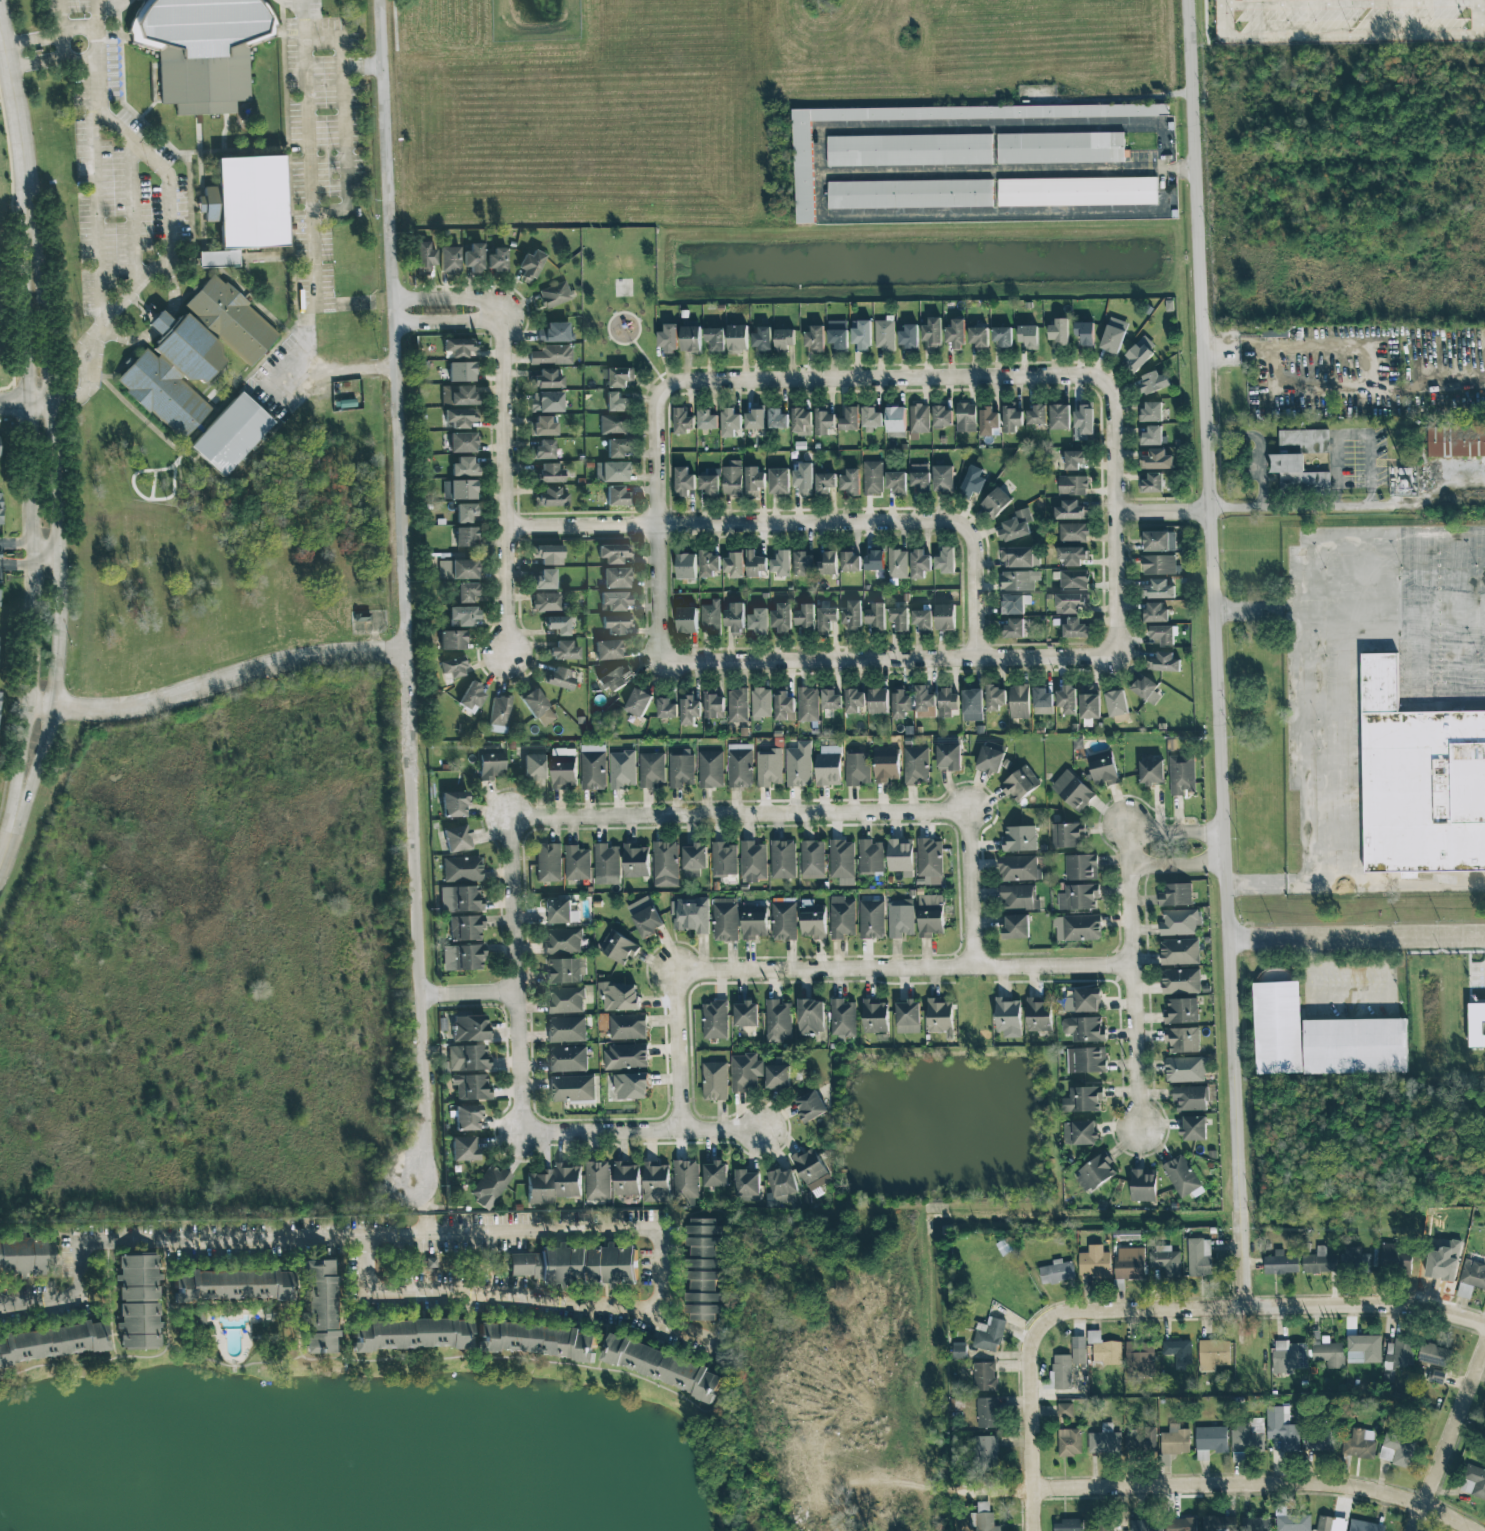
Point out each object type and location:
road: (1476, 0)
road: (62, 1)
parking lot: (72, 1)
road: (95, 1)
road: (109, 2)
road: (1222, 2)
road: (1350, 3)
road: (66, 32)
road: (1350, 36)
road: (49, 37)
road: (335, 40)
building: (202, 49)
road: (82, 61)
road: (38, 64)
road: (304, 112)
parking lot: (328, 123)
road: (343, 135)
building: (984, 163)
road: (1182, 169)
road: (820, 172)
building: (243, 199)
road: (994, 213)
road: (93, 220)
parking lot: (116, 222)
road: (182, 222)
building: (424, 257)
building: (473, 258)
building: (214, 259)
building: (449, 259)
building: (497, 260)
building: (530, 265)
road: (176, 292)
road: (311, 293)
building: (556, 294)
road: (448, 302)
road: (160, 322)
road: (448, 324)
building: (553, 332)
building: (1059, 332)
building: (837, 333)
building: (1084, 333)
building: (884, 334)
building: (932, 334)
building: (956, 334)
building: (862, 335)
building: (1027, 335)
building: (908, 336)
building: (978, 336)
building: (1002, 336)
building: (737, 337)
road: (132, 338)
building: (715, 338)
building: (784, 338)
building: (668, 339)
building: (690, 339)
building: (761, 339)
building: (814, 339)
building: (1112, 339)
building: (457, 347)
building: (191, 353)
building: (1139, 354)
building: (551, 355)
road: (1370, 362)
road: (324, 371)
building: (461, 371)
parking lot: (285, 373)
building: (617, 376)
building: (547, 380)
building: (1152, 383)
road: (889, 384)
building: (457, 395)
road: (20, 402)
building: (546, 402)
building: (616, 402)
building: (1151, 411)
building: (1036, 415)
building: (1059, 416)
building: (460, 417)
building: (755, 417)
building: (942, 417)
building: (966, 417)
building: (1012, 417)
building: (778, 418)
building: (895, 418)
building: (707, 419)
building: (849, 419)
building: (871, 419)
building: (919, 419)
building: (683, 420)
building: (988, 420)
building: (801, 421)
building: (824, 421)
building: (1083, 421)
building: (730, 422)
building: (613, 424)
building: (544, 426)
building: (225, 434)
building: (1151, 435)
building: (1456, 440)
building: (463, 442)
building: (616, 447)
road: (1256, 447)
building: (543, 449)
road: (43, 455)
building: (1075, 459)
building: (1156, 460)
building: (1300, 461)
building: (464, 466)
building: (548, 472)
building: (611, 472)
building: (919, 476)
building: (872, 477)
building: (804, 478)
building: (943, 478)
building: (731, 479)
building: (754, 480)
building: (684, 481)
building: (779, 481)
building: (895, 481)
building: (825, 482)
building: (972, 482)
building: (849, 483)
building: (1151, 483)
road: (503, 484)
building: (709, 485)
building: (1072, 485)
building: (459, 489)
building: (617, 496)
building: (550, 498)
building: (996, 502)
road: (1348, 503)
building: (1070, 510)
road: (1166, 511)
building: (465, 512)
building: (0, 517)
road: (1121, 525)
building: (1015, 526)
road: (661, 528)
road: (801, 528)
building: (1072, 532)
building: (465, 536)
building: (1159, 540)
road: (23, 544)
building: (613, 553)
building: (548, 554)
building: (1071, 555)
building: (1020, 557)
building: (945, 560)
building: (850, 561)
building: (873, 561)
road: (24, 562)
building: (709, 563)
building: (755, 563)
building: (781, 563)
building: (803, 563)
building: (828, 563)
building: (897, 563)
building: (919, 563)
building: (733, 565)
building: (1158, 565)
building: (686, 566)
building: (457, 569)
building: (615, 578)
building: (1073, 579)
building: (544, 580)
building: (1019, 580)
building: (1158, 589)
road: (405, 591)
building: (466, 592)
building: (615, 600)
building: (546, 602)
building: (1071, 602)
building: (1013, 604)
road: (1260, 606)
building: (1155, 612)
building: (852, 614)
building: (462, 616)
building: (945, 616)
building: (710, 617)
building: (781, 617)
building: (804, 617)
building: (876, 617)
building: (734, 618)
building: (899, 618)
building: (826, 619)
building: (921, 619)
building: (687, 620)
building: (758, 621)
road: (1305, 623)
building: (616, 624)
building: (558, 625)
building: (1014, 628)
building: (1074, 628)
building: (1162, 634)
building: (452, 640)
road: (1421, 647)
building: (563, 650)
building: (607, 650)
road: (1218, 653)
building: (1163, 662)
road: (889, 663)
building: (453, 667)
building: (614, 678)
building: (561, 679)
road: (226, 680)
building: (1146, 689)
building: (471, 697)
building: (995, 697)
building: (1066, 699)
building: (831, 700)
building: (855, 700)
building: (878, 701)
building: (1019, 701)
building: (1042, 701)
building: (638, 702)
building: (900, 702)
building: (924, 702)
building: (947, 702)
building: (1116, 702)
building: (760, 703)
building: (808, 704)
building: (972, 704)
building: (714, 705)
building: (737, 705)
building: (784, 706)
building: (1089, 706)
building: (538, 707)
building: (666, 708)
building: (690, 710)
building: (949, 756)
building: (989, 760)
building: (490, 763)
building: (886, 764)
building: (740, 765)
building: (799, 765)
building: (828, 765)
building: (916, 765)
building: (535, 766)
building: (593, 767)
building: (769, 767)
building: (563, 768)
building: (857, 768)
building: (622, 769)
building: (651, 769)
building: (681, 769)
building: (710, 769)
building: (1104, 771)
building: (1151, 772)
building: (1181, 774)
building: (1418, 779)
building: (1019, 783)
building: (1073, 790)
building: (454, 803)
road: (735, 817)
road: (1177, 829)
building: (1067, 835)
building: (456, 838)
building: (1019, 838)
building: (870, 856)
building: (900, 856)
building: (694, 859)
building: (724, 859)
building: (782, 859)
building: (812, 859)
building: (635, 860)
building: (929, 860)
building: (753, 861)
building: (842, 861)
building: (548, 862)
building: (577, 863)
building: (606, 864)
building: (665, 864)
building: (1081, 867)
building: (1018, 868)
building: (462, 869)
road: (1179, 870)
road: (1356, 882)
road: (972, 891)
building: (1176, 895)
building: (1018, 896)
building: (1078, 896)
building: (460, 899)
road: (512, 907)
building: (560, 911)
building: (690, 914)
building: (930, 915)
building: (645, 917)
building: (841, 917)
building: (901, 918)
building: (725, 919)
building: (783, 919)
building: (871, 919)
building: (813, 920)
building: (1180, 921)
building: (754, 922)
building: (1016, 926)
building: (1077, 927)
building: (465, 928)
road: (1358, 937)
building: (563, 941)
building: (618, 946)
building: (1179, 951)
building: (463, 957)
road: (903, 968)
building: (565, 970)
road: (1348, 975)
building: (1180, 981)
road: (1130, 982)
road: (468, 994)
building: (618, 996)
building: (1087, 999)
building: (565, 1000)
building: (1181, 1010)
building: (746, 1014)
building: (939, 1014)
building: (1038, 1015)
building: (811, 1016)
building: (875, 1016)
building: (907, 1016)
building: (1008, 1017)
building: (842, 1018)
building: (714, 1019)
building: (778, 1021)
building: (1476, 1024)
building: (627, 1026)
building: (1277, 1027)
building: (469, 1028)
building: (566, 1029)
building: (1084, 1029)
building: (1182, 1039)
building: (1355, 1046)
road: (679, 1051)
building: (625, 1056)
building: (467, 1058)
building: (567, 1059)
building: (1085, 1059)
road: (519, 1063)
building: (1184, 1069)
building: (745, 1072)
building: (778, 1073)
building: (714, 1080)
building: (631, 1086)
building: (471, 1087)
building: (571, 1088)
building: (1189, 1098)
building: (1083, 1099)
building: (810, 1106)
building: (466, 1118)
building: (1193, 1127)
road: (642, 1131)
building: (1080, 1132)
building: (464, 1148)
building: (811, 1169)
building: (1094, 1173)
building: (714, 1174)
building: (1182, 1176)
building: (626, 1178)
building: (685, 1179)
building: (568, 1180)
building: (597, 1180)
building: (656, 1181)
building: (782, 1182)
building: (1143, 1185)
building: (489, 1186)
building: (746, 1186)
building: (538, 1187)
road: (423, 1197)
building: (784, 1199)
road: (428, 1227)
road: (380, 1241)
building: (26, 1256)
building: (1199, 1257)
building: (1356, 1257)
building: (1396, 1257)
building: (1165, 1260)
building: (1319, 1261)
building: (1130, 1263)
building: (1280, 1263)
building: (520, 1264)
building: (1094, 1264)
building: (536, 1265)
building: (589, 1265)
building: (703, 1269)
building: (1056, 1272)
building: (1471, 1277)
building: (233, 1285)
road: (487, 1292)
building: (138, 1302)
building: (319, 1307)
road: (1263, 1307)
building: (409, 1334)
building: (989, 1334)
building: (535, 1340)
building: (52, 1342)
building: (1363, 1348)
building: (1078, 1350)
building: (959, 1351)
building: (1107, 1352)
building: (1178, 1352)
building: (1399, 1353)
building: (1213, 1354)
building: (1328, 1354)
building: (1434, 1354)
building: (1289, 1356)
building: (1140, 1359)
building: (661, 1365)
building: (1062, 1371)
building: (984, 1376)
building: (1436, 1376)
building: (1065, 1410)
building: (987, 1412)
road: (1029, 1425)
building: (1282, 1428)
road: (1448, 1436)
building: (1246, 1438)
building: (1320, 1439)
building: (1104, 1440)
building: (1175, 1440)
building: (1141, 1441)
building: (1210, 1441)
building: (1069, 1442)
building: (1360, 1443)
building: (1397, 1449)
building: (985, 1451)
building: (1474, 1481)
road: (1217, 1483)
building: (983, 1518)
building: (1219, 1523)
building: (1293, 1523)
building: (1182, 1524)
building: (1255, 1524)
building: (1330, 1524)
building: (1068, 1525)
building: (1143, 1526)
building: (1365, 1526)
building: (1103, 1527)

